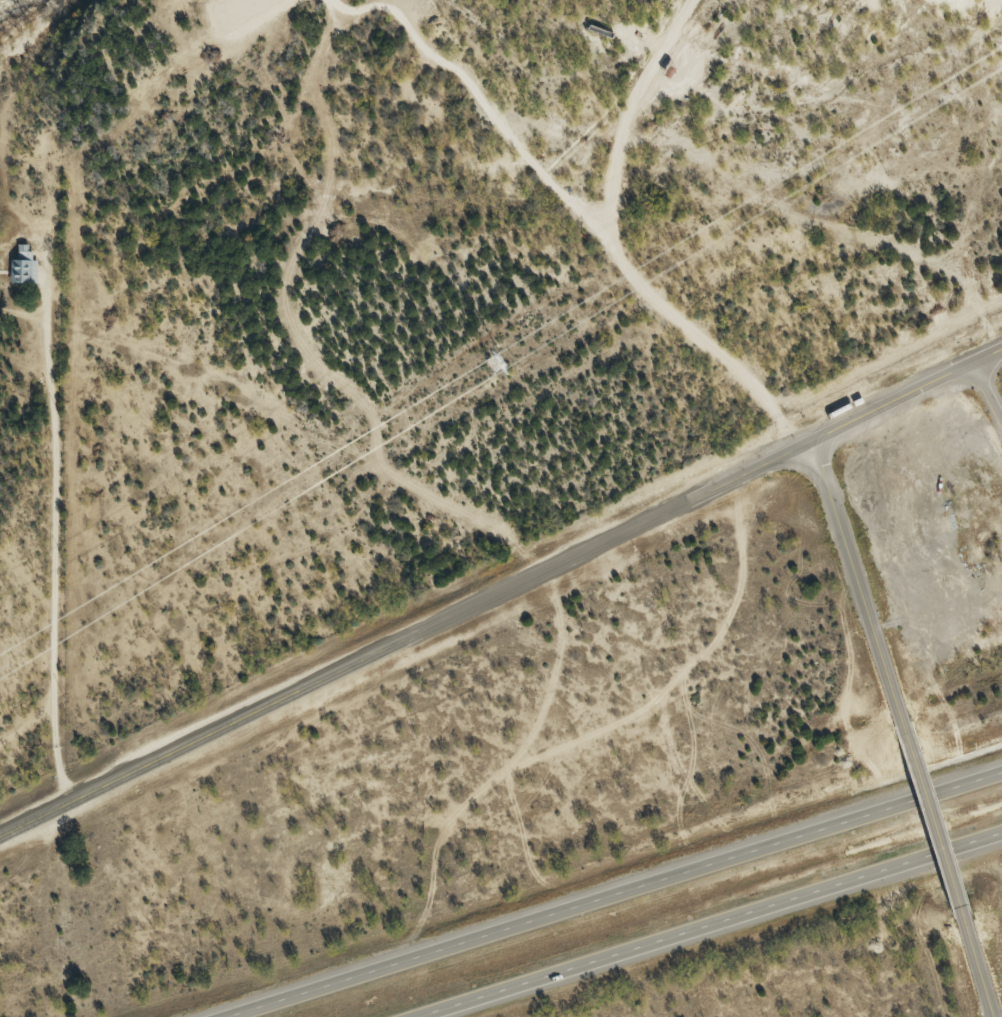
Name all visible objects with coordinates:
road: (668, 69)
road: (685, 155)
building: (24, 268)
road: (971, 311)
road: (991, 355)
power tower: (499, 360)
road: (991, 382)
road: (896, 401)
road: (856, 591)
road: (405, 640)
road: (927, 820)
road: (609, 890)
road: (720, 929)
road: (971, 959)

